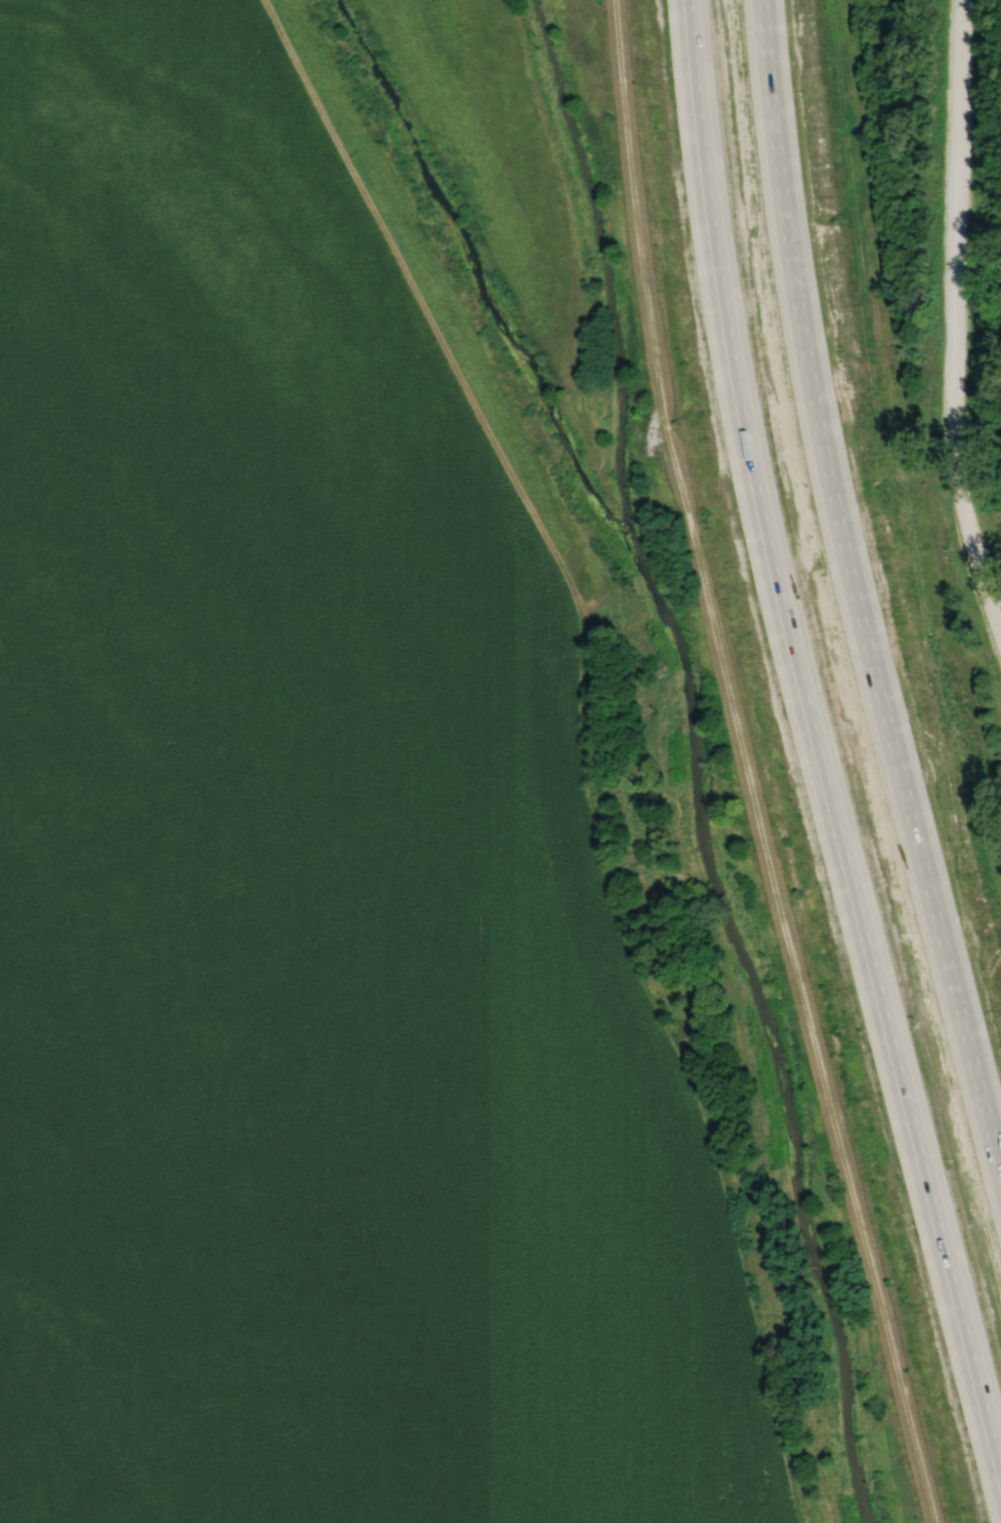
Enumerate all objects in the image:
road: (954, 319)
road: (864, 555)
road: (827, 701)
road: (749, 766)
river: (770, 1031)

